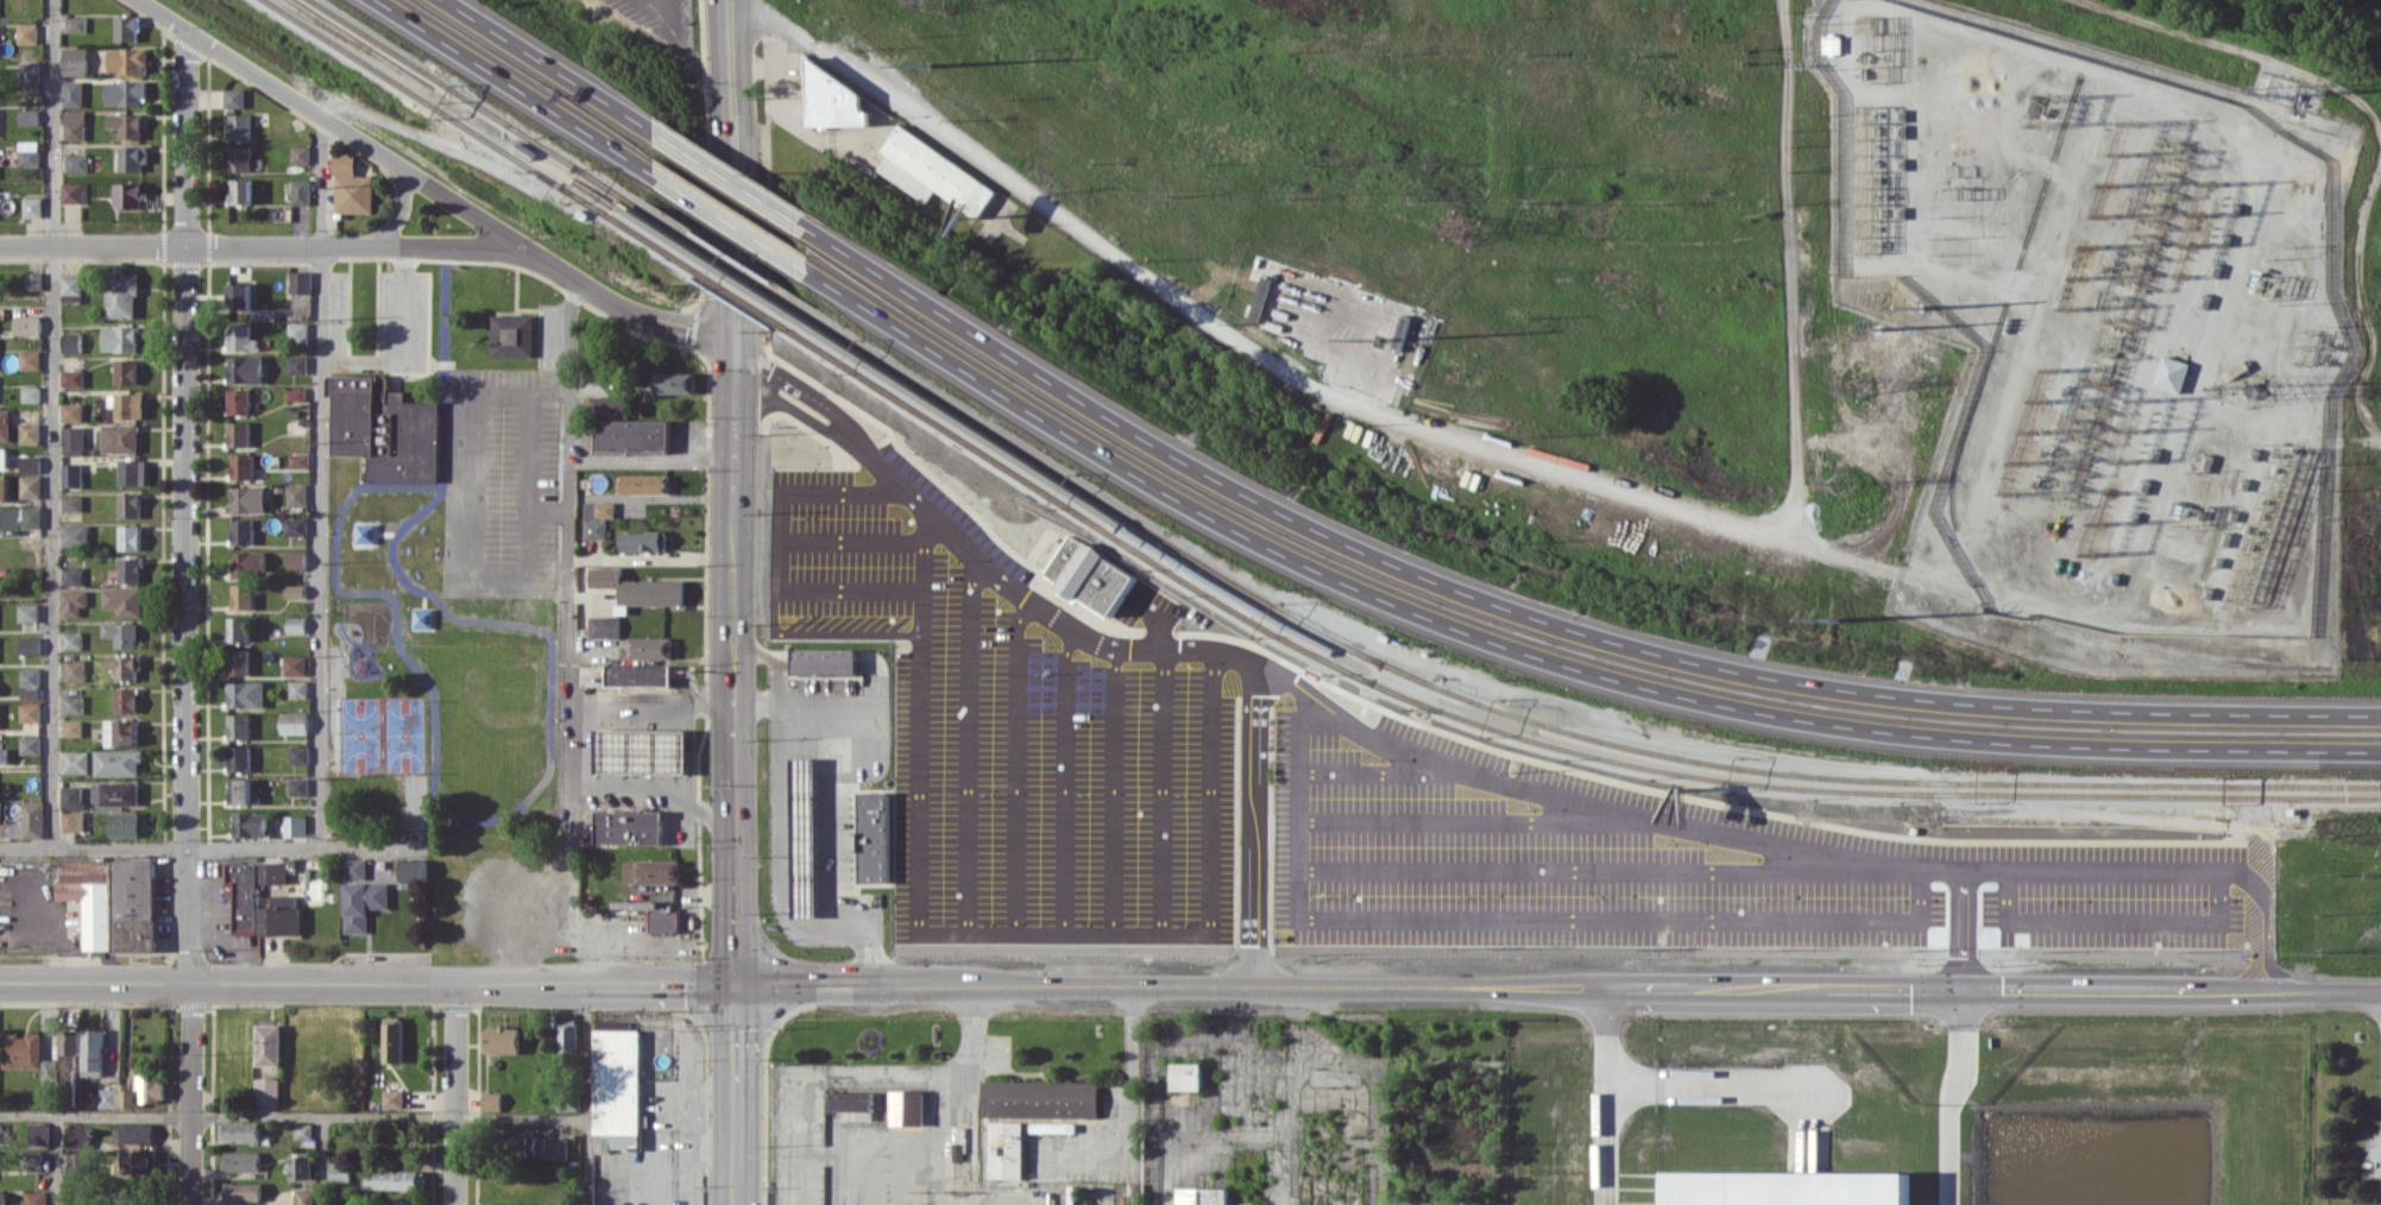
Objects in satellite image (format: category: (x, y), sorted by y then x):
power tower: (939, 1)
road: (648, 7)
building: (71, 24)
building: (121, 27)
parking lot: (653, 31)
building: (23, 33)
building: (1832, 44)
building: (122, 59)
building: (70, 61)
power tower: (926, 64)
building: (25, 71)
railway: (442, 81)
road: (731, 81)
railway: (417, 92)
building: (68, 93)
building: (121, 93)
building: (229, 97)
building: (827, 99)
building: (25, 116)
road: (328, 122)
building: (122, 124)
road: (2373, 124)
building: (235, 126)
building: (70, 130)
building: (25, 153)
building: (296, 153)
building: (130, 158)
building: (235, 158)
building: (73, 162)
building: (925, 171)
building: (347, 187)
building: (237, 190)
building: (296, 191)
building: (69, 193)
building: (126, 195)
railway: (619, 200)
building: (29, 207)
road: (397, 209)
power tower: (1442, 227)
road: (262, 247)
road: (1788, 269)
building: (31, 280)
building: (297, 282)
building: (69, 284)
building: (119, 295)
building: (235, 295)
power tower: (1885, 296)
power substation: (2093, 303)
building: (1252, 309)
road: (619, 310)
building: (259, 314)
road: (731, 322)
building: (25, 324)
building: (295, 330)
building: (509, 335)
building: (239, 337)
building: (118, 339)
power tower: (1374, 339)
traffic signals: (731, 341)
building: (70, 342)
road: (399, 345)
building: (27, 359)
road: (319, 361)
building: (296, 365)
building: (244, 368)
road: (731, 370)
building: (125, 371)
building: (2169, 373)
building: (70, 377)
power tower: (1859, 380)
building: (670, 381)
road: (1316, 386)
road: (798, 390)
building: (29, 393)
building: (294, 393)
road: (747, 397)
traffic signals: (732, 398)
building: (239, 400)
building: (126, 404)
building: (605, 404)
building: (71, 411)
railway: (974, 418)
railway: (974, 418)
road: (810, 421)
road: (51, 423)
building: (4, 424)
building: (384, 429)
building: (29, 433)
building: (238, 434)
building: (630, 435)
building: (119, 437)
railway: (963, 437)
railway: (962, 439)
road: (2358, 439)
building: (73, 440)
road: (732, 452)
building: (2, 456)
road: (650, 459)
building: (298, 460)
road: (869, 462)
building: (30, 463)
building: (241, 466)
building: (132, 472)
building: (71, 474)
building: (644, 482)
power tower: (1838, 485)
building: (30, 486)
road: (833, 486)
building: (4, 487)
road: (568, 491)
building: (296, 494)
building: (247, 498)
building: (71, 503)
building: (130, 505)
building: (599, 509)
road: (547, 510)
building: (19, 519)
building: (295, 526)
building: (594, 529)
building: (245, 530)
building: (75, 535)
building: (130, 537)
building: (643, 541)
road: (848, 541)
road: (1347, 545)
road: (468, 554)
road: (777, 556)
building: (296, 560)
building: (248, 562)
road: (1312, 568)
building: (131, 569)
building: (1084, 573)
building: (71, 575)
road: (848, 586)
building: (640, 587)
road: (1008, 587)
building: (295, 592)
road: (732, 595)
building: (242, 597)
building: (125, 600)
building: (74, 601)
building: (29, 612)
road: (185, 617)
power tower: (1834, 618)
building: (296, 624)
building: (604, 626)
road: (996, 626)
building: (239, 629)
road: (848, 629)
building: (122, 633)
building: (71, 639)
building: (31, 645)
building: (650, 648)
road: (1210, 650)
building: (825, 661)
building: (239, 662)
building: (296, 664)
building: (126, 665)
building: (75, 670)
building: (638, 675)
building: (31, 677)
building: (298, 688)
building: (246, 694)
building: (126, 700)
building: (74, 704)
road: (651, 707)
building: (31, 712)
building: (0, 715)
building: (295, 723)
building: (239, 726)
building: (74, 727)
park: (383, 731)
building: (121, 732)
road: (917, 732)
park: (453, 733)
building: (31, 745)
building: (642, 750)
building: (300, 753)
building: (4, 755)
building: (240, 758)
building: (76, 762)
building: (118, 762)
road: (969, 770)
road: (1379, 771)
railway: (1872, 776)
building: (298, 786)
road: (637, 786)
road: (1015, 786)
railway: (1870, 789)
building: (240, 790)
building: (120, 793)
road: (1159, 793)
road: (1210, 793)
parking lot: (1343, 794)
building: (73, 797)
road: (1064, 801)
road: (1300, 805)
road: (1113, 808)
power tower: (1913, 814)
road: (714, 815)
building: (33, 819)
building: (74, 820)
road: (1480, 822)
building: (125, 824)
building: (251, 824)
road: (571, 825)
building: (630, 826)
road: (1254, 826)
building: (296, 827)
building: (5, 829)
road: (733, 833)
building: (805, 835)
building: (874, 837)
road: (1760, 841)
road: (212, 847)
road: (781, 860)
building: (355, 869)
road: (1604, 869)
building: (414, 870)
building: (651, 871)
building: (272, 872)
building: (114, 902)
building: (363, 903)
building: (258, 906)
building: (664, 920)
road: (1781, 920)
road: (1960, 929)
road: (1063, 933)
road: (2262, 955)
road: (585, 961)
traffic signals: (735, 982)
road: (789, 982)
road: (292, 983)
road: (661, 983)
road: (861, 983)
road: (1064, 985)
road: (1815, 990)
traffic signals: (1961, 990)
building: (392, 1039)
building: (503, 1039)
building: (568, 1039)
building: (69, 1041)
building: (267, 1043)
building: (93, 1052)
building: (27, 1054)
road: (733, 1073)
building: (1186, 1075)
road: (1707, 1084)
building: (267, 1089)
building: (617, 1089)
building: (141, 1091)
road: (455, 1094)
road: (587, 1094)
road: (1283, 1096)
building: (107, 1097)
building: (1038, 1097)
road: (1611, 1097)
road: (1952, 1097)
building: (392, 1098)
building: (491, 1100)
building: (849, 1100)
road: (693, 1102)
building: (906, 1106)
road: (1130, 1110)
road: (292, 1117)
building: (1052, 1127)
building: (303, 1130)
building: (240, 1131)
building: (39, 1133)
building: (134, 1133)
road: (940, 1134)
building: (78, 1136)
building: (1006, 1149)
building: (31, 1160)
road: (58, 1160)
building: (241, 1160)
building: (138, 1161)
road: (321, 1161)
building: (301, 1166)
building: (77, 1169)
building: (340, 1172)
building: (390, 1179)
road: (731, 1185)
building: (1787, 1187)
building: (242, 1191)
railway: (1109, 1195)
building: (2, 1197)
building: (34, 1197)
building: (304, 1197)
railway: (1067, 1197)
building: (1203, 1197)
building: (407, 1201)
building: (503, 1204)

